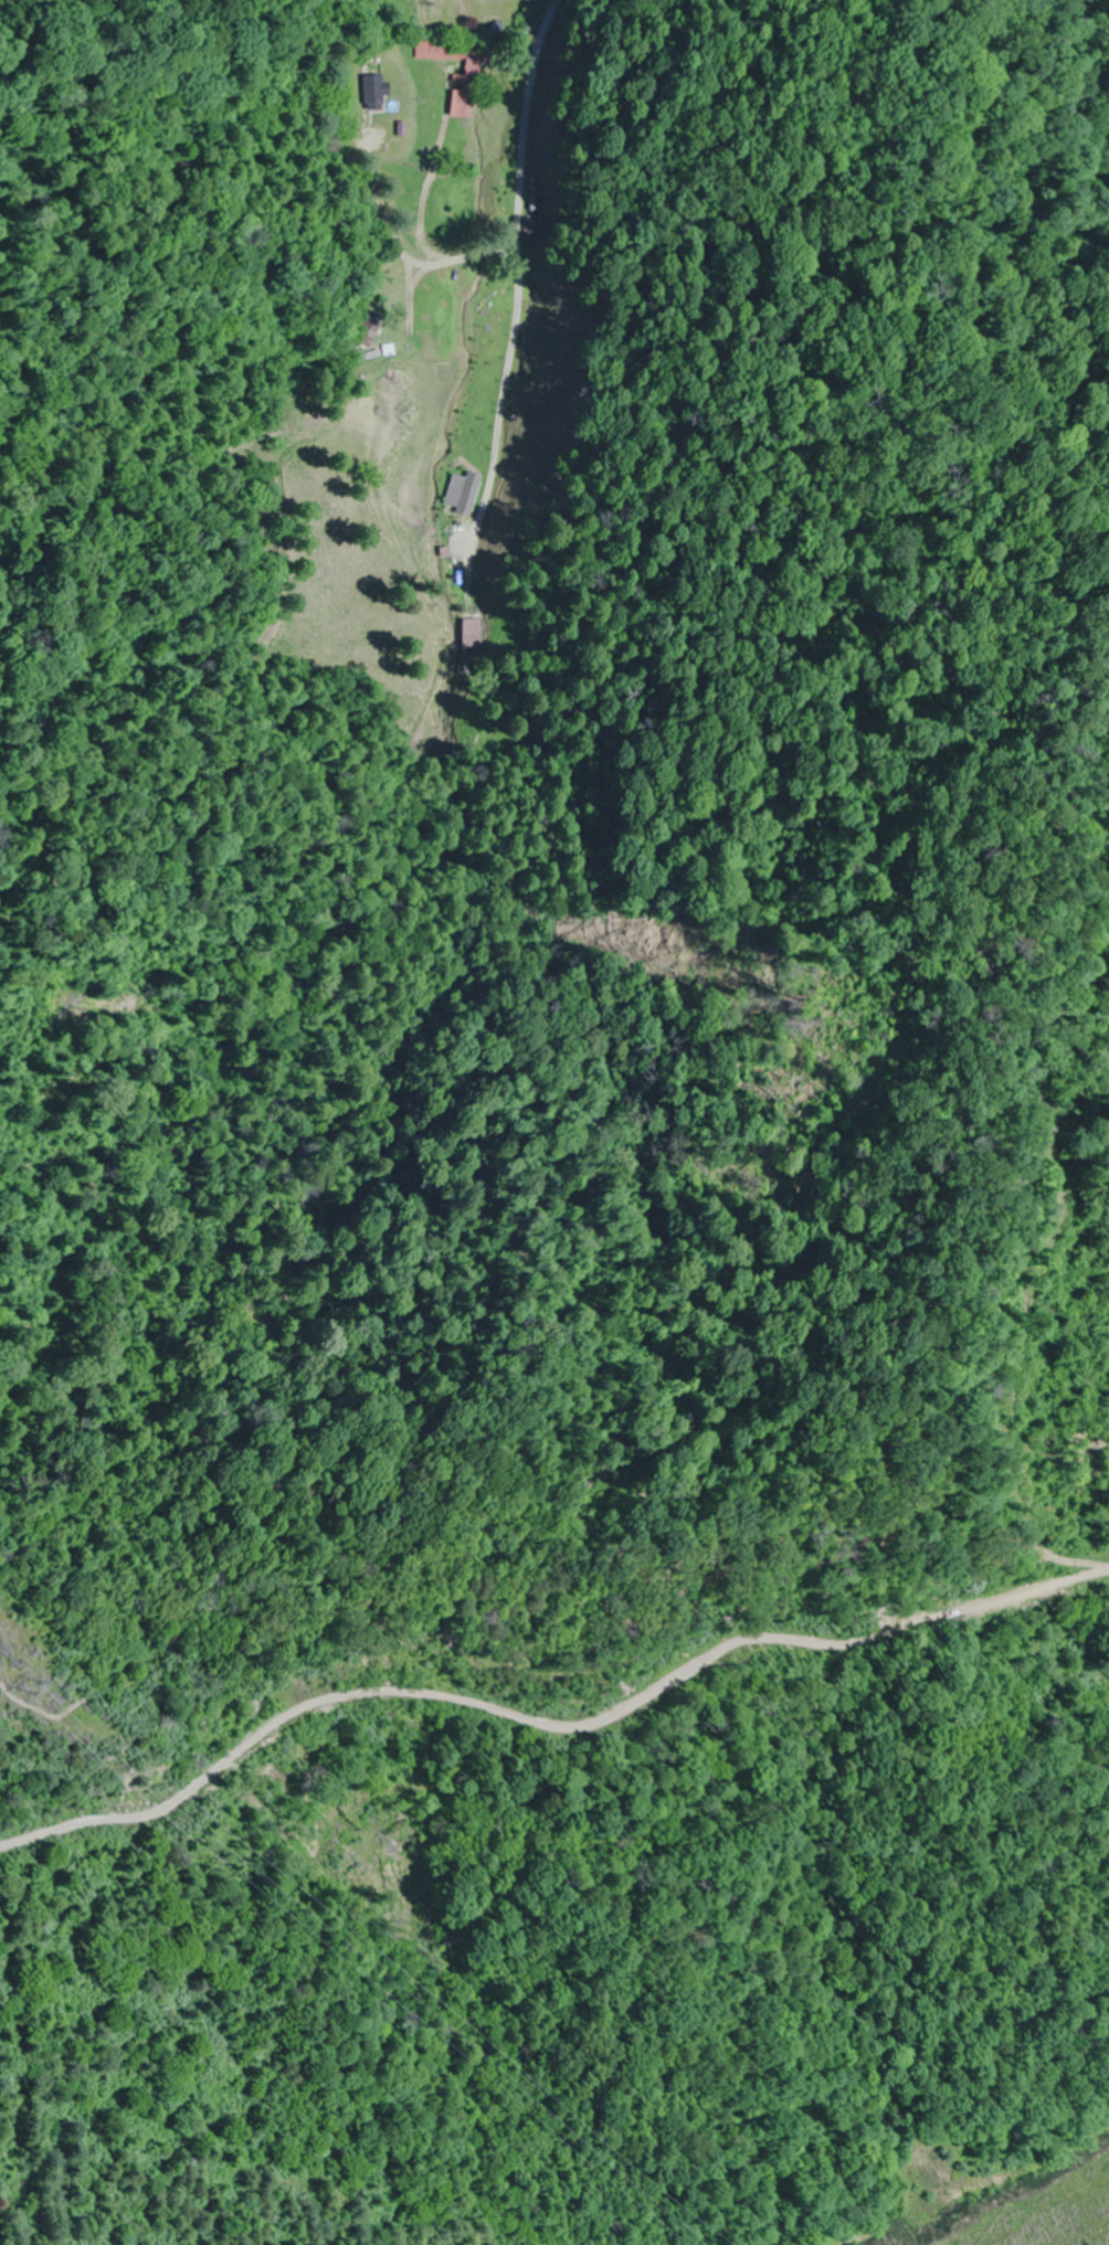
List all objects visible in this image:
building: (527, 0)
building: (473, 71)
building: (378, 94)
road: (536, 266)
building: (374, 330)
building: (464, 493)
building: (471, 635)
road: (604, 708)

